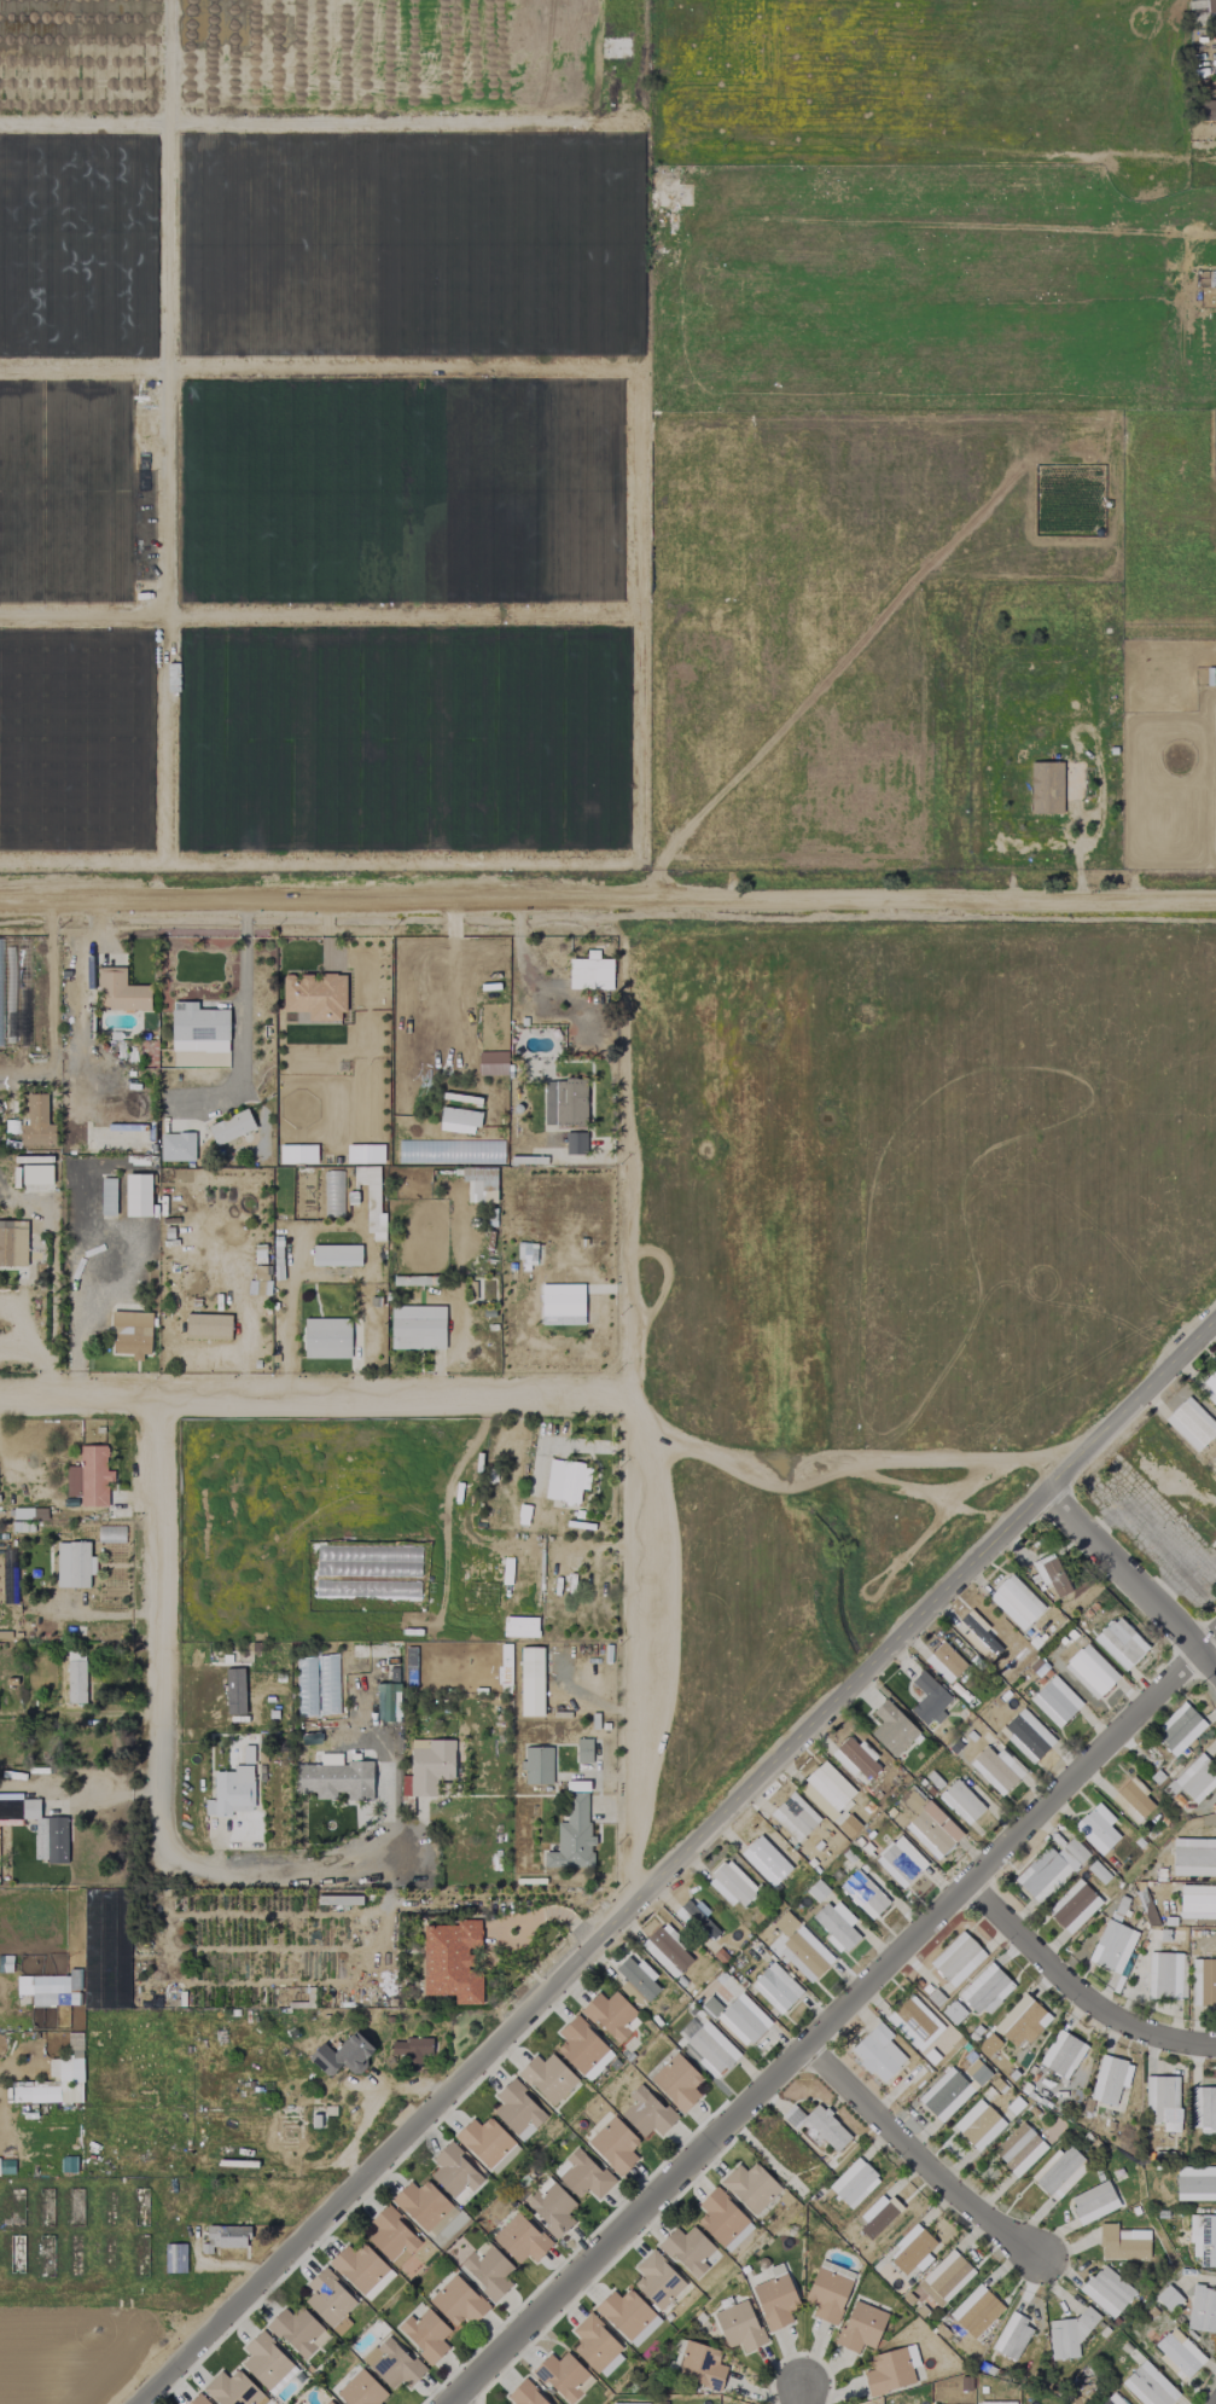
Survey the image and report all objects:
building: (1195, 0)
building: (1210, 6)
building: (1208, 110)
road: (1211, 162)
building: (1046, 788)
road: (607, 902)
building: (589, 972)
road: (529, 974)
road: (48, 985)
building: (120, 992)
building: (314, 995)
building: (198, 1028)
building: (564, 1103)
building: (458, 1120)
building: (36, 1122)
building: (231, 1127)
building: (575, 1143)
building: (176, 1146)
building: (297, 1154)
building: (365, 1154)
building: (36, 1174)
building: (479, 1184)
building: (136, 1195)
building: (107, 1196)
building: (12, 1243)
building: (525, 1252)
building: (336, 1255)
building: (562, 1303)
building: (206, 1326)
building: (417, 1328)
building: (130, 1334)
building: (326, 1339)
building: (1210, 1387)
road: (314, 1398)
building: (1191, 1423)
road: (850, 1454)
road: (630, 1456)
building: (89, 1476)
building: (566, 1480)
road: (912, 1492)
building: (29, 1514)
building: (72, 1564)
building: (1051, 1574)
road: (1130, 1581)
building: (1016, 1602)
building: (976, 1634)
road: (159, 1636)
building: (1119, 1642)
building: (944, 1662)
building: (1089, 1671)
building: (75, 1677)
building: (530, 1682)
building: (927, 1700)
building: (1054, 1701)
building: (386, 1702)
building: (891, 1729)
building: (1179, 1729)
building: (1026, 1736)
building: (583, 1750)
building: (246, 1754)
building: (855, 1758)
building: (537, 1765)
building: (427, 1766)
building: (996, 1769)
building: (1195, 1778)
building: (334, 1779)
building: (826, 1790)
building: (232, 1792)
building: (1134, 1799)
building: (960, 1801)
building: (793, 1816)
building: (848, 1825)
building: (37, 1827)
building: (1096, 1828)
building: (932, 1830)
building: (572, 1836)
building: (1193, 1857)
road: (676, 1860)
building: (764, 1860)
building: (900, 1862)
building: (1049, 1868)
road: (277, 1869)
building: (732, 1885)
building: (862, 1894)
building: (1197, 1901)
building: (1072, 1906)
building: (696, 1917)
building: (836, 1926)
building: (1165, 1935)
building: (1112, 1946)
building: (667, 1951)
building: (804, 1953)
building: (956, 1958)
building: (452, 1962)
building: (1166, 1975)
building: (636, 1981)
building: (1203, 1981)
building: (775, 1987)
building: (985, 1990)
building: (43, 1991)
road: (1076, 1993)
building: (716, 1997)
building: (935, 1998)
building: (953, 2011)
building: (611, 2016)
building: (743, 2020)
road: (832, 2020)
building: (1022, 2022)
building: (988, 2045)
building: (582, 2048)
building: (710, 2049)
building: (412, 2050)
building: (877, 2052)
building: (1061, 2054)
building: (342, 2055)
building: (70, 2078)
building: (547, 2078)
building: (1109, 2079)
building: (676, 2081)
building: (952, 2089)
building: (35, 2094)
building: (1162, 2101)
building: (1203, 2108)
building: (517, 2110)
building: (646, 2112)
building: (818, 2125)
building: (977, 2125)
building: (487, 2143)
building: (613, 2145)
building: (1018, 2149)
road: (915, 2154)
building: (1059, 2171)
building: (454, 2173)
building: (581, 2174)
building: (853, 2183)
building: (1195, 2183)
building: (750, 2187)
building: (1093, 2202)
building: (421, 2205)
building: (549, 2206)
building: (875, 2218)
building: (722, 2220)
building: (390, 2235)
building: (227, 2236)
building: (520, 2238)
building: (1203, 2240)
building: (1122, 2243)
building: (687, 2249)
building: (910, 2249)
building: (174, 2258)
building: (361, 2270)
building: (487, 2270)
building: (944, 2278)
building: (656, 2280)
building: (828, 2290)
building: (1106, 2290)
building: (774, 2296)
building: (1168, 2299)
building: (328, 2301)
building: (458, 2301)
building: (1202, 2309)
building: (976, 2311)
building: (627, 2316)
building: (739, 2325)
building: (860, 2327)
building: (297, 2332)
building: (424, 2334)
building: (1012, 2336)
building: (595, 2346)
building: (1179, 2354)
building: (266, 2363)
building: (391, 2364)
building: (700, 2365)
building: (890, 2370)
building: (563, 2376)
building: (1148, 2386)
building: (231, 2390)
building: (360, 2390)
road: (797, 2390)
building: (524, 2394)
building: (196, 2400)
building: (328, 2403)
building: (996, 2403)

